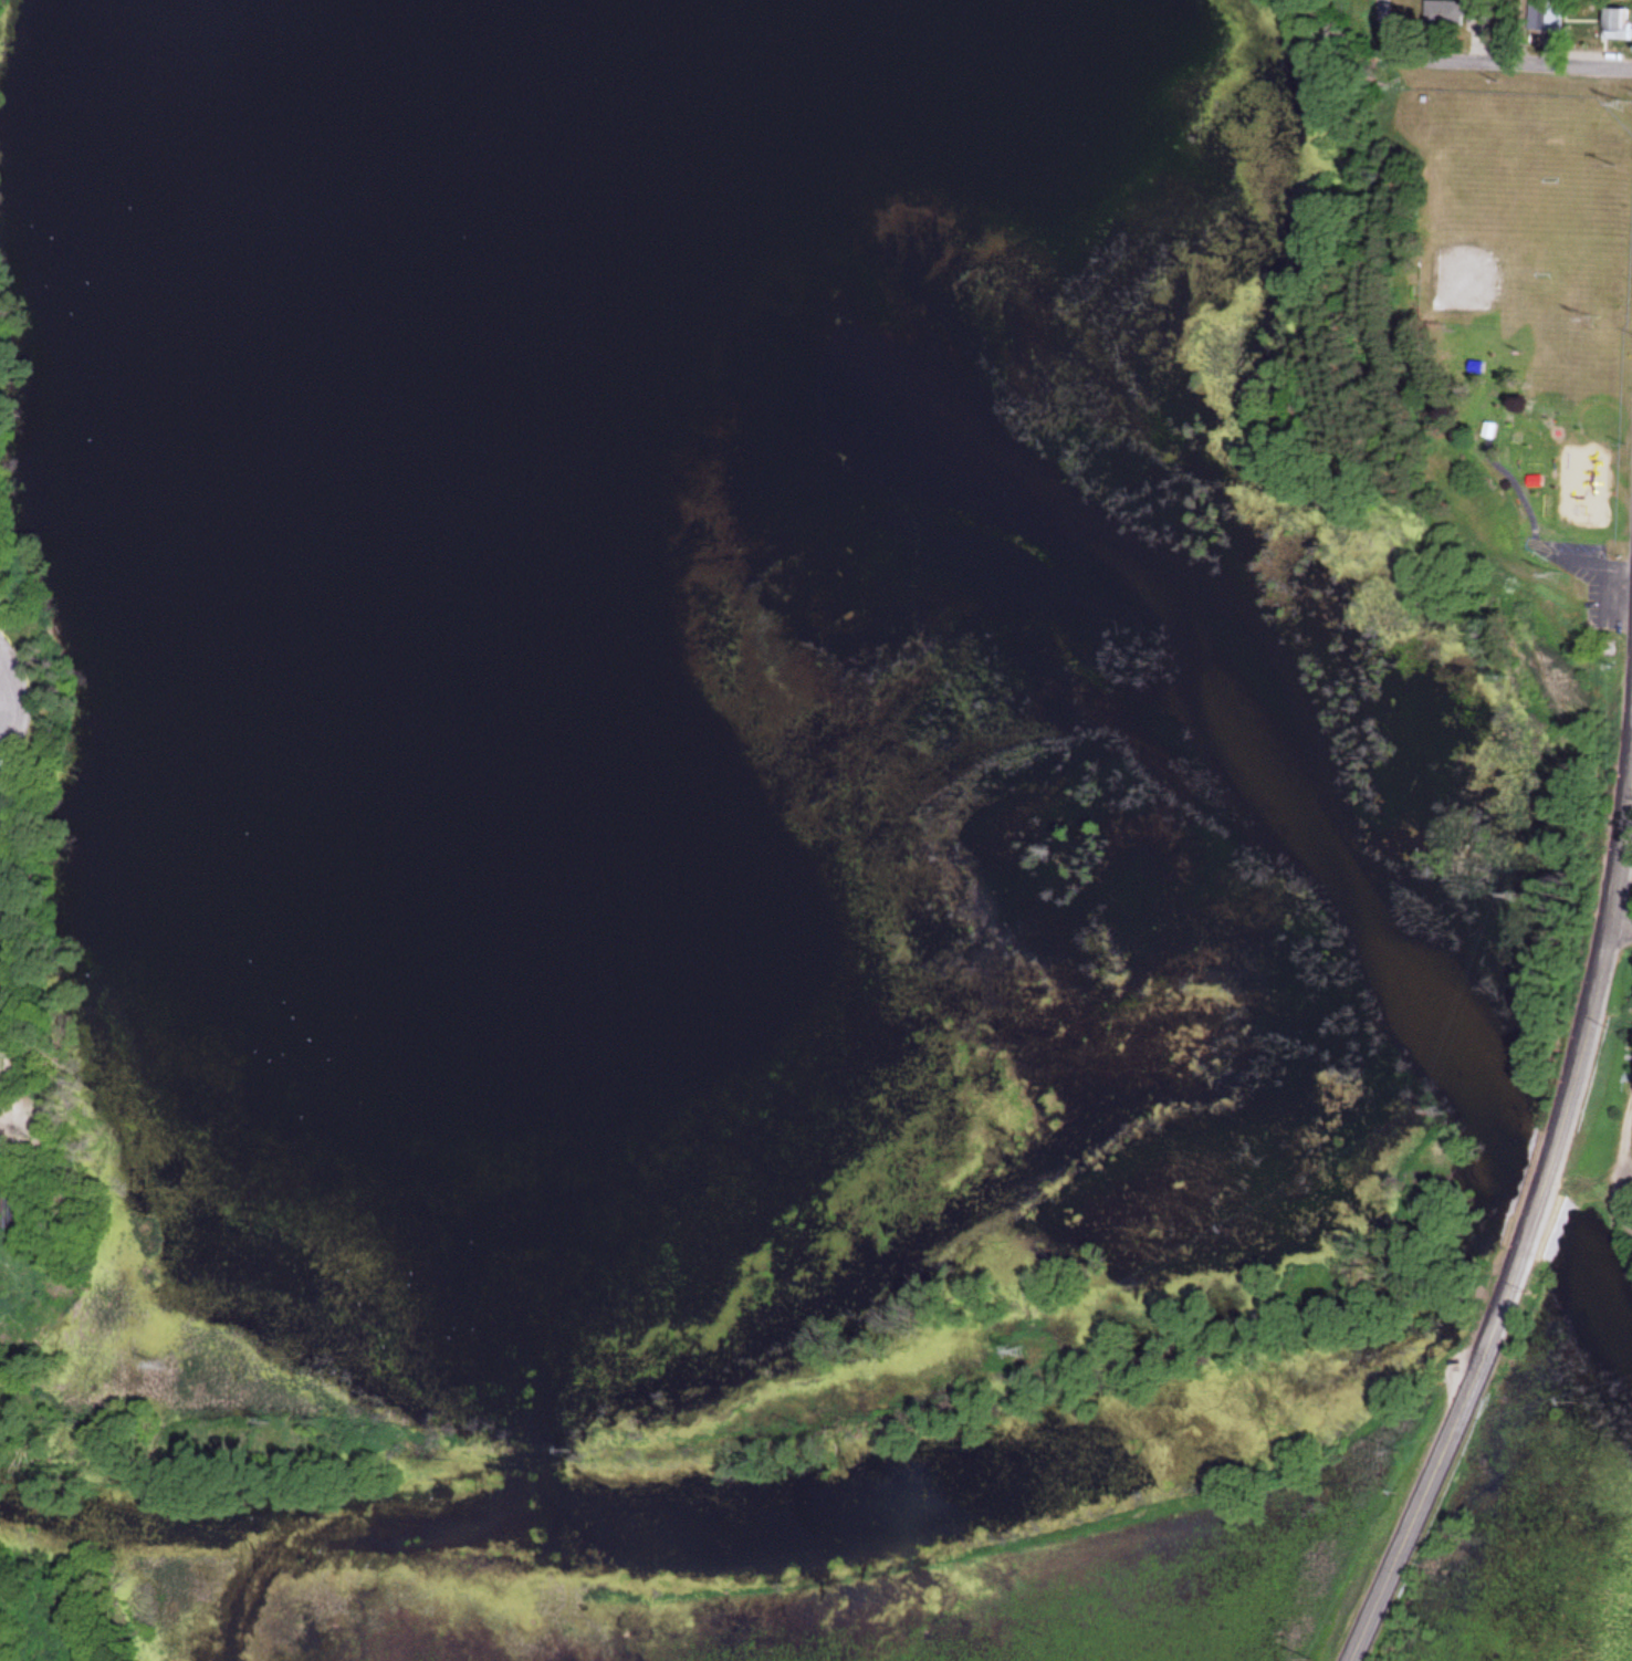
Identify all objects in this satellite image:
building: (1454, 14)
building: (1542, 15)
road: (1380, 24)
building: (1617, 24)
road: (1509, 66)
park: (1513, 333)
road: (1622, 845)
river: (1342, 879)
road: (1619, 937)
river: (1542, 1201)
river: (1598, 1294)
road: (1500, 1306)

